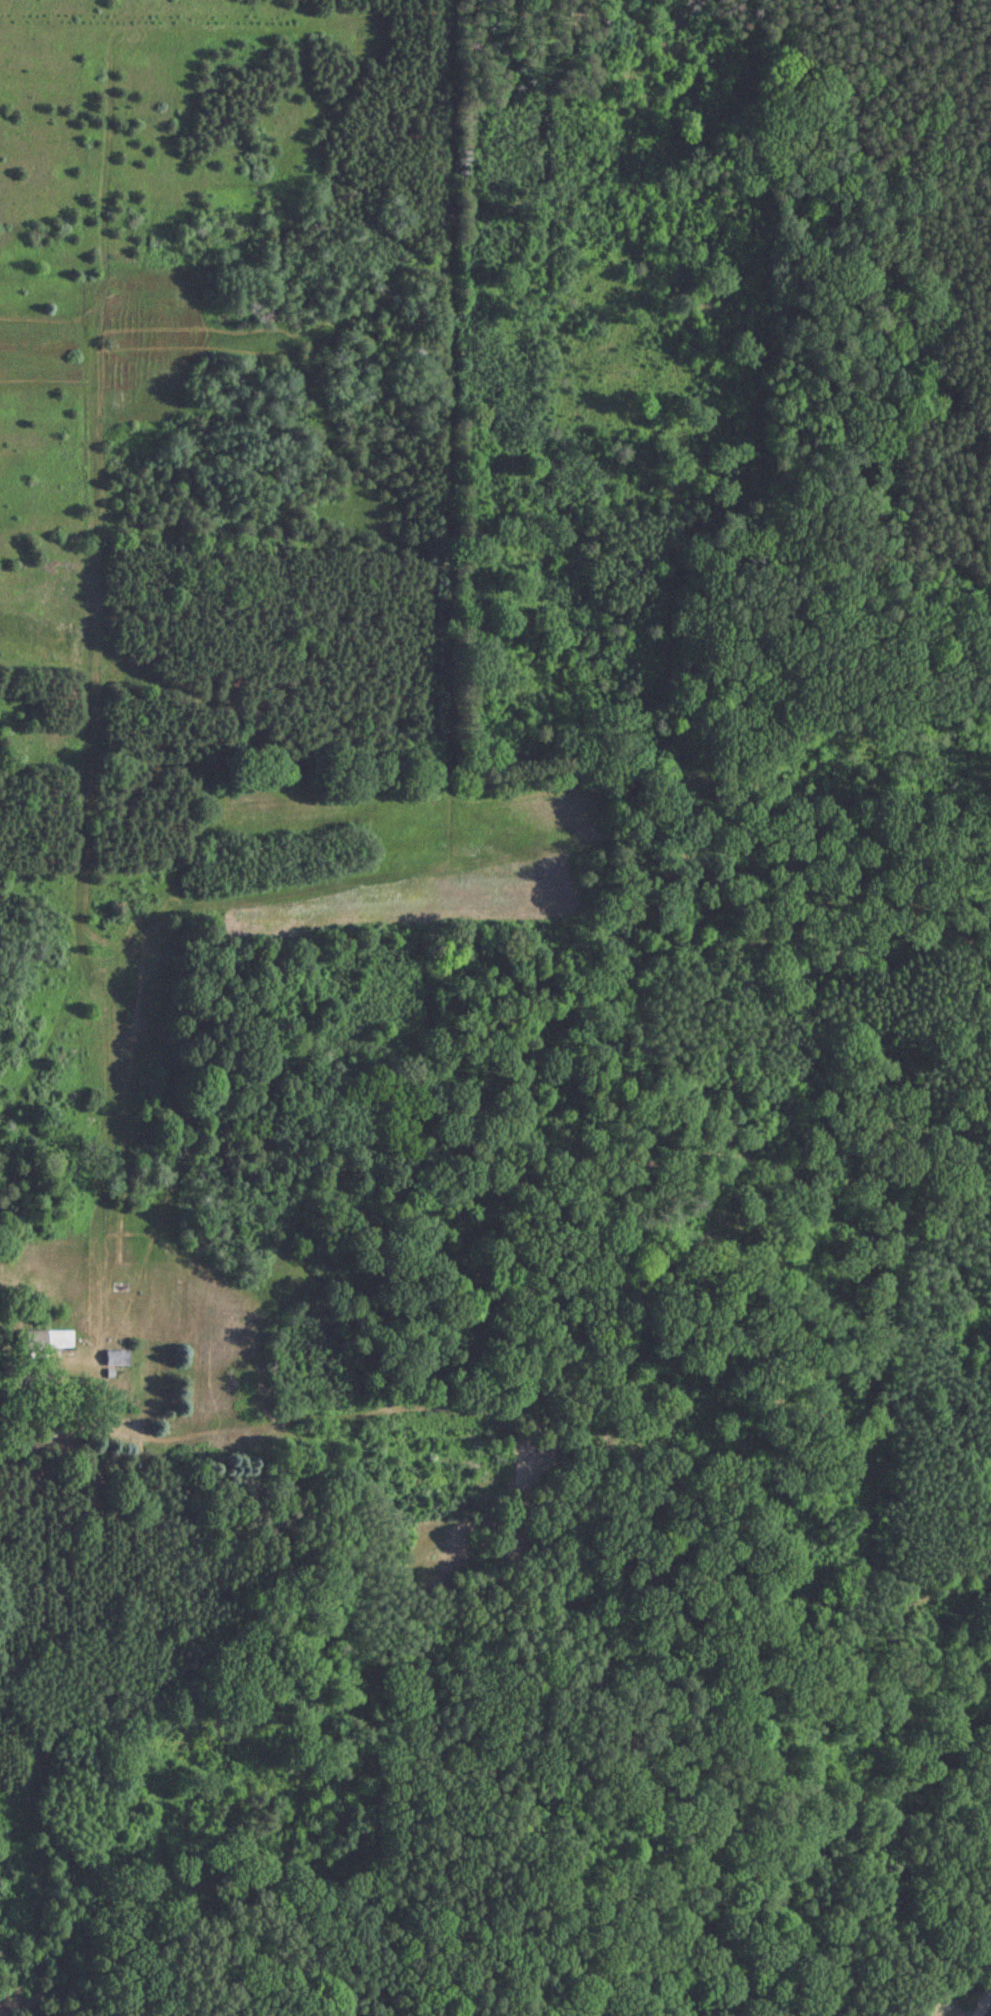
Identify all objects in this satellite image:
building: (57, 1338)
building: (113, 1357)

